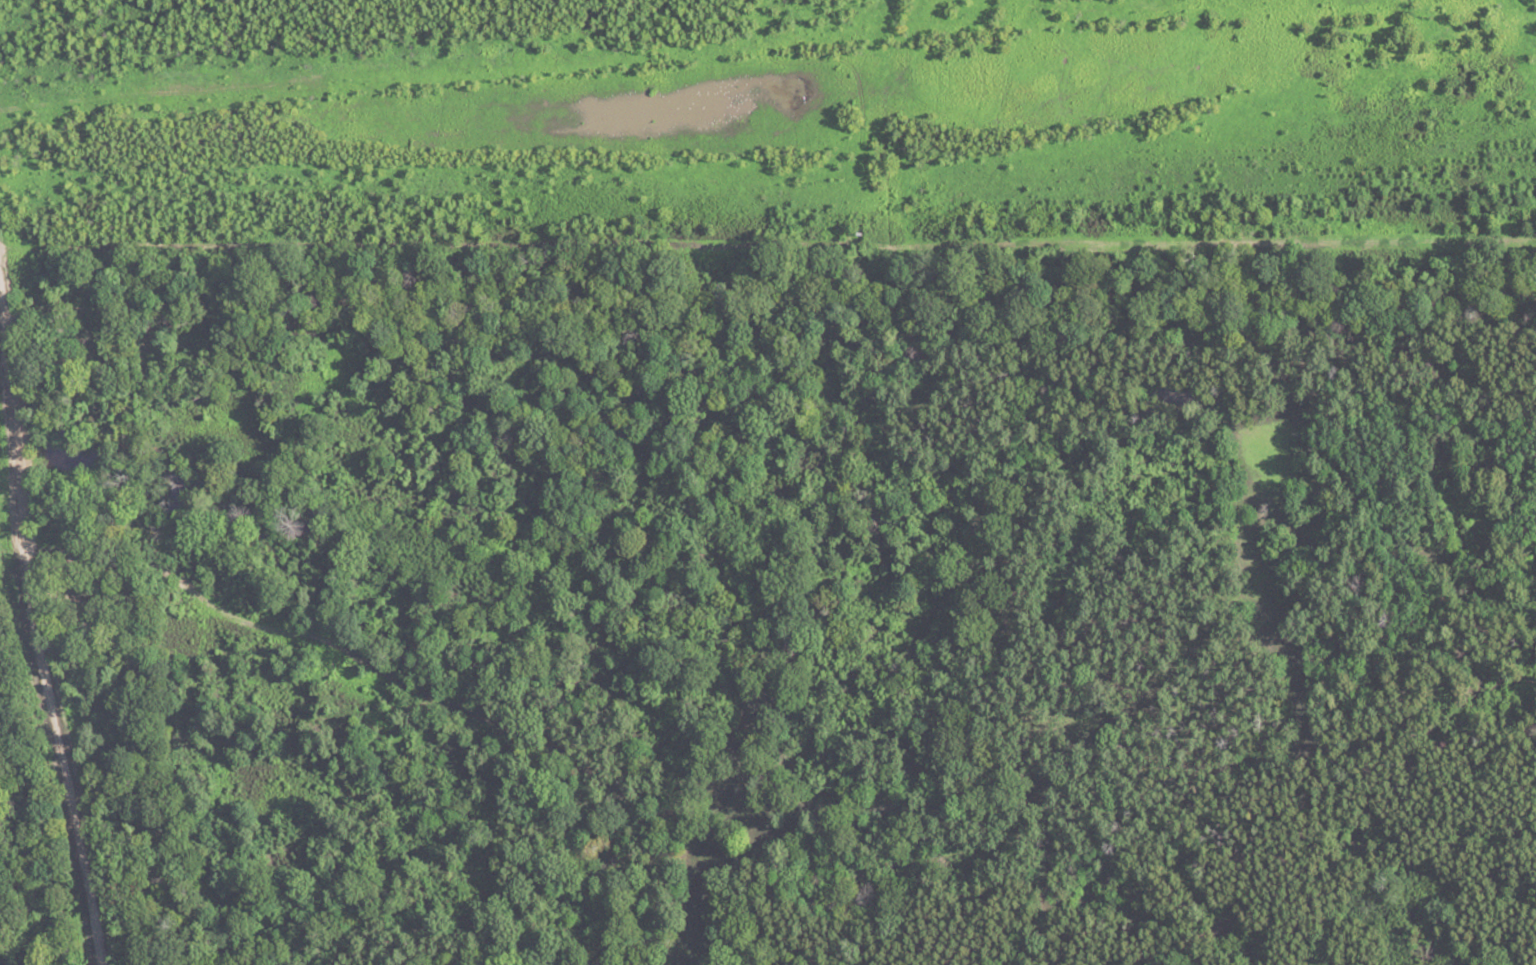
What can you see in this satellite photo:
road: (39, 636)

